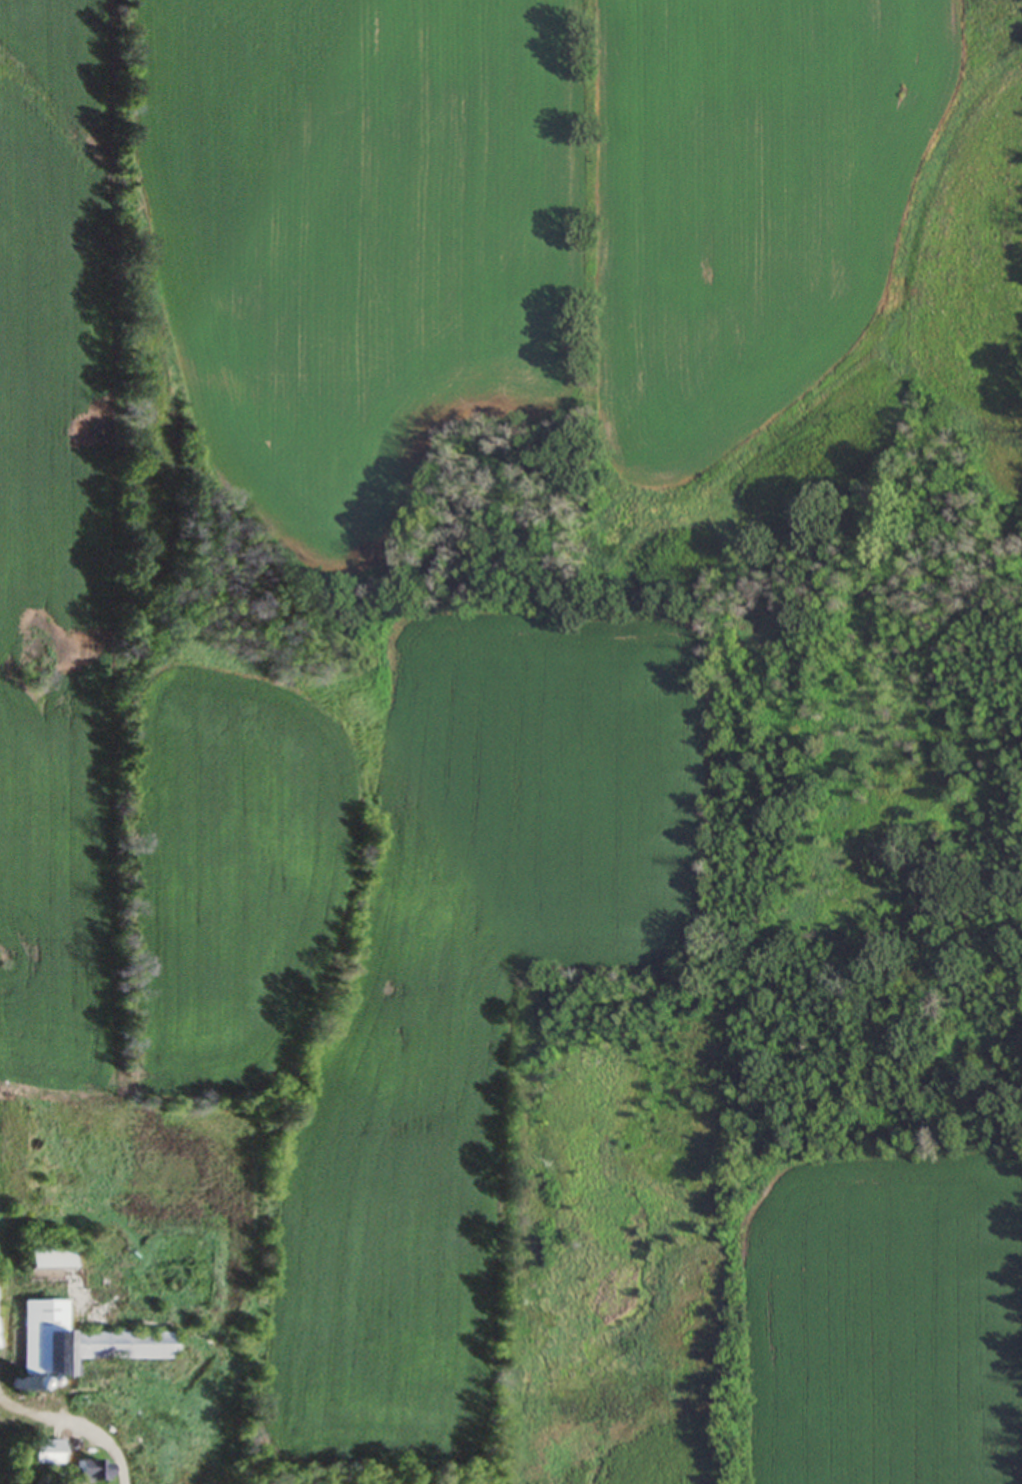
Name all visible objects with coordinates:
building: (50, 1260)
road: (3, 1329)
building: (79, 1343)
road: (75, 1428)
building: (48, 1453)
building: (94, 1472)

